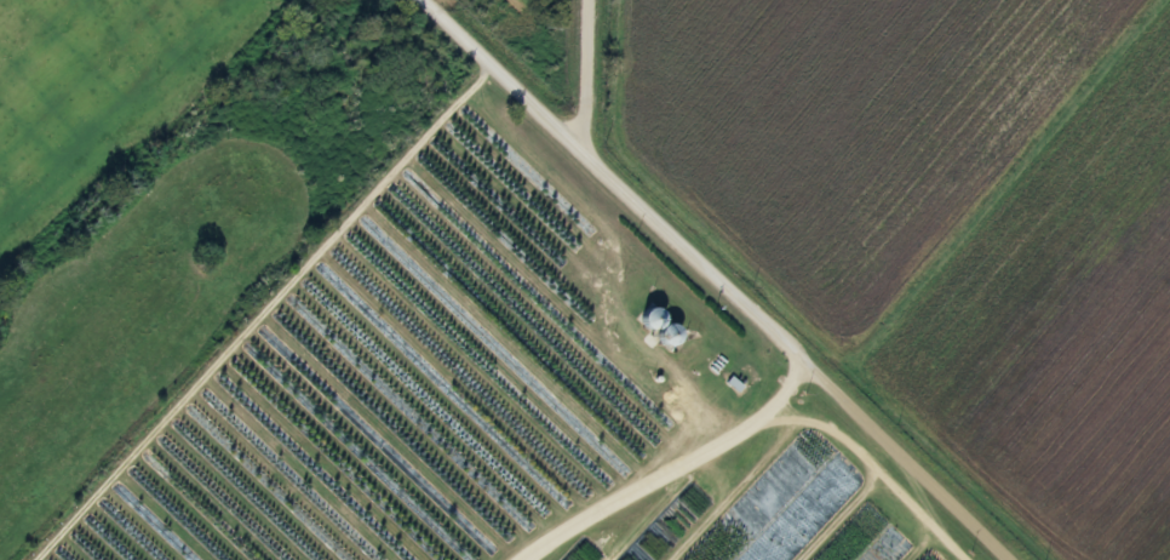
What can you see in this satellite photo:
road: (581, 70)
road: (719, 279)
road: (665, 465)

